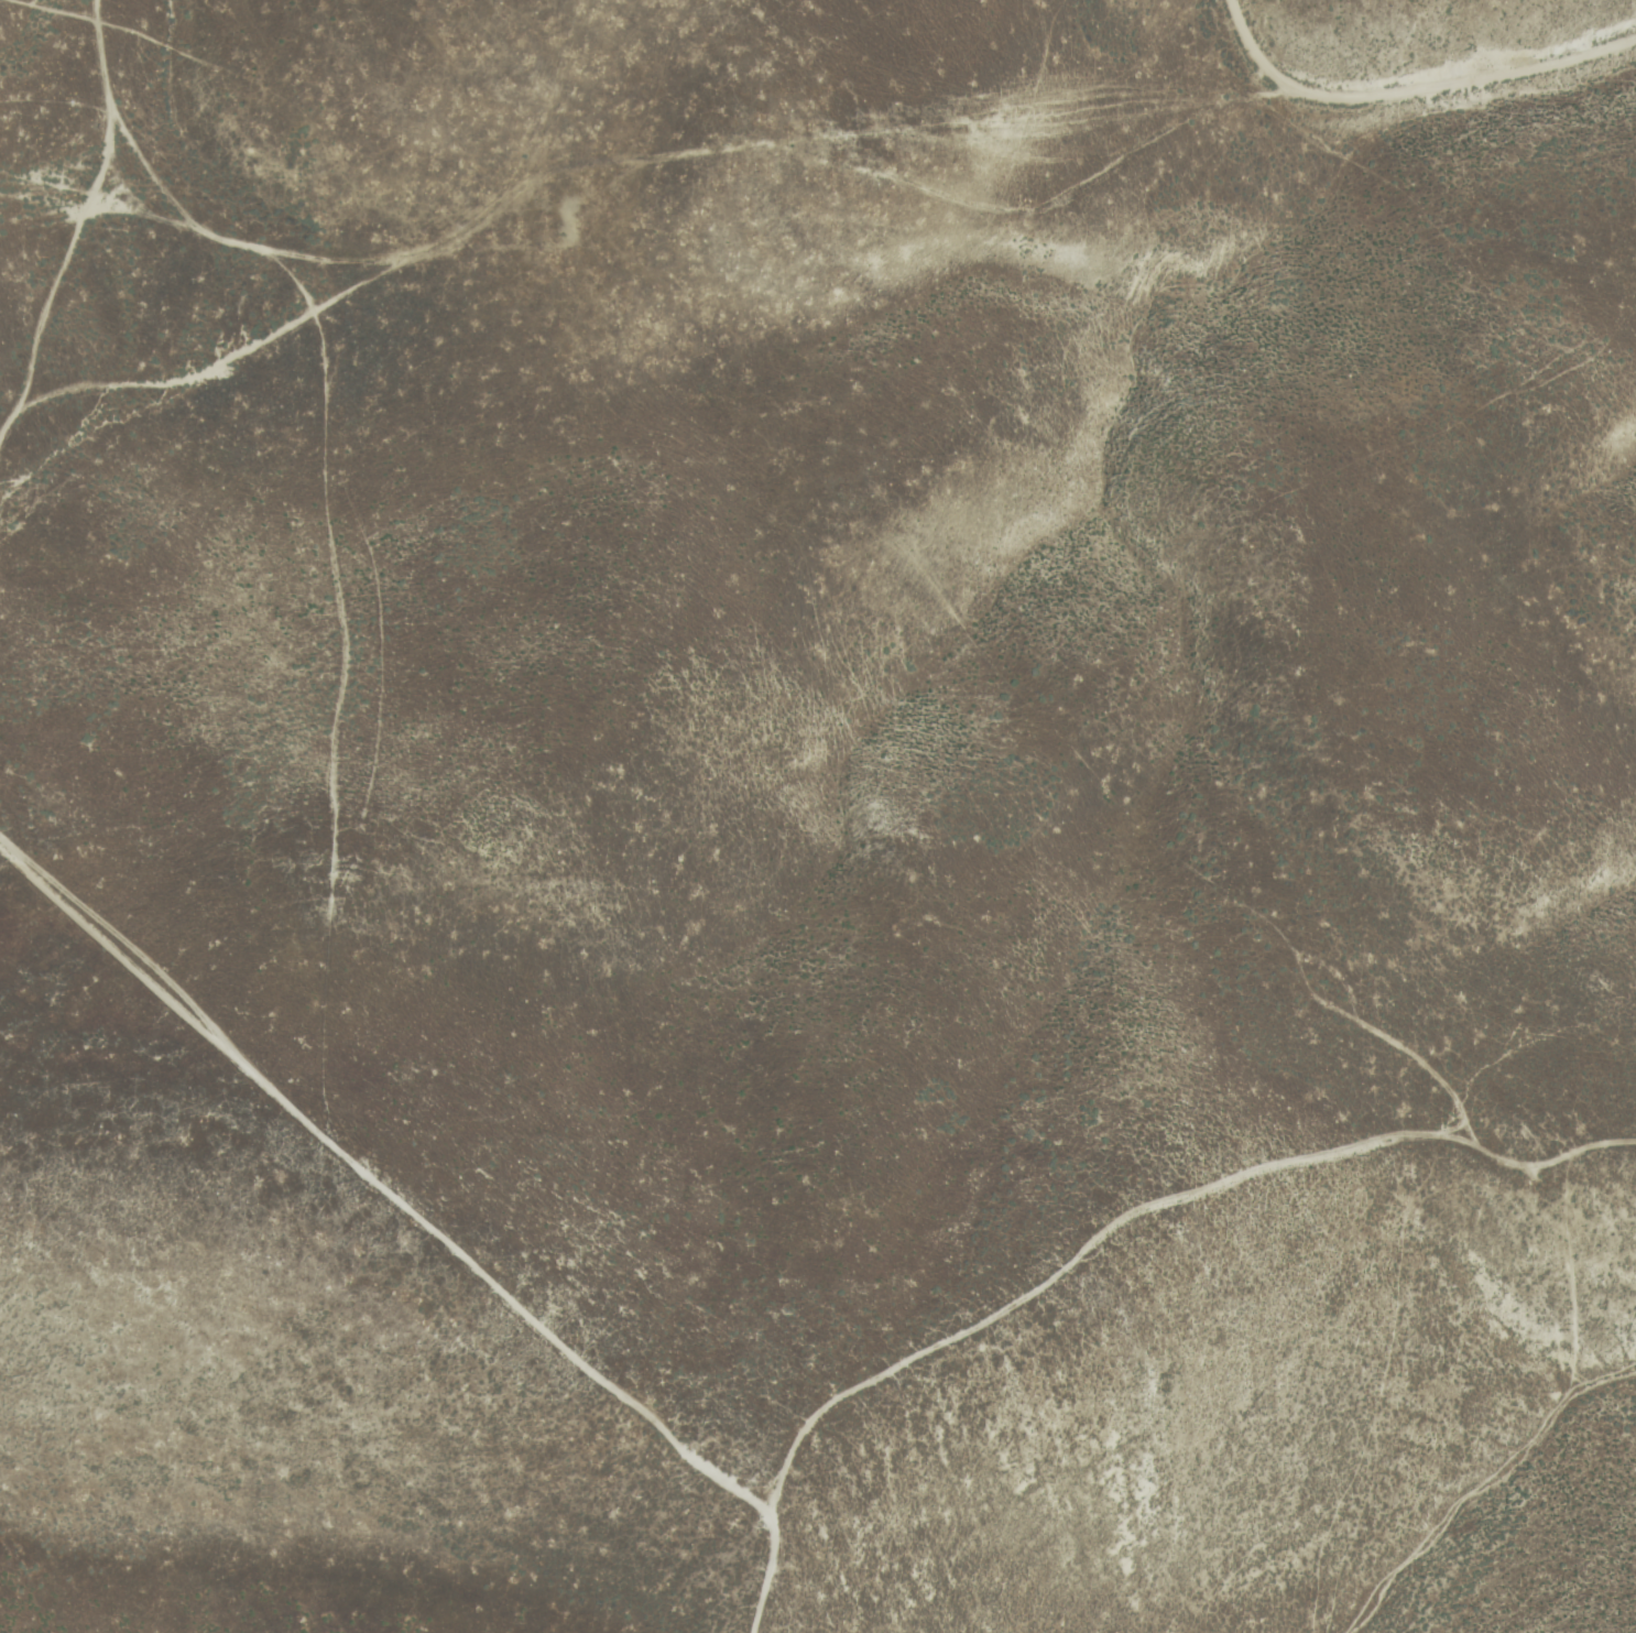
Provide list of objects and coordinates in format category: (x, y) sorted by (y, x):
road: (1413, 90)
road: (615, 160)
road: (145, 217)
road: (347, 261)
road: (66, 266)
road: (337, 522)
road: (1148, 1210)
road: (426, 1224)

